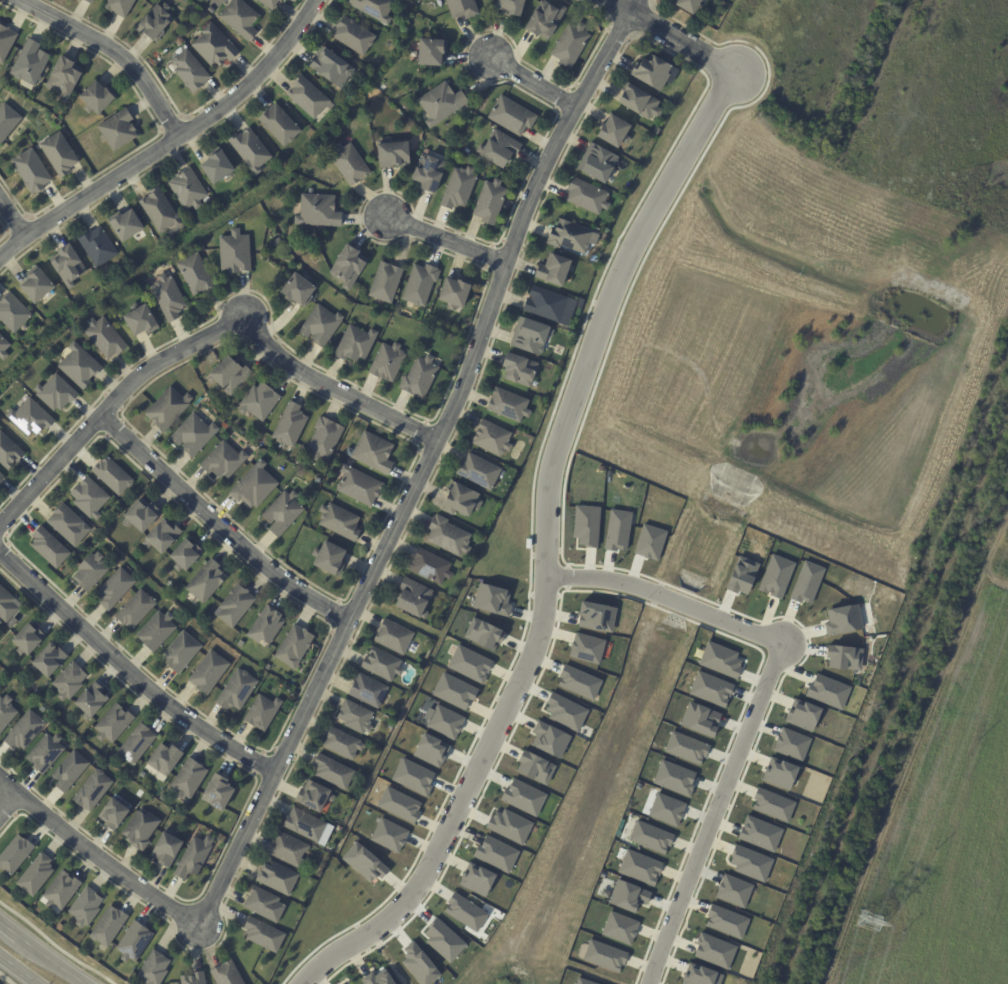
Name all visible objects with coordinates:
building: (279, 0)
building: (87, 1)
building: (268, 3)
building: (687, 5)
building: (510, 6)
building: (119, 7)
building: (373, 8)
building: (461, 8)
building: (211, 10)
building: (239, 18)
building: (544, 20)
building: (155, 23)
building: (353, 36)
road: (673, 36)
building: (5, 41)
building: (570, 44)
building: (213, 46)
building: (430, 50)
road: (111, 52)
building: (29, 63)
building: (330, 67)
building: (189, 70)
building: (651, 71)
building: (63, 77)
road: (532, 81)
building: (307, 97)
building: (96, 98)
building: (638, 101)
building: (440, 103)
building: (511, 115)
building: (7, 121)
building: (278, 124)
park: (884, 129)
building: (117, 130)
building: (613, 131)
building: (657, 131)
road: (169, 144)
building: (500, 148)
building: (249, 149)
building: (58, 154)
building: (392, 154)
building: (598, 163)
building: (348, 164)
building: (216, 167)
building: (30, 171)
building: (429, 174)
building: (459, 188)
building: (186, 189)
building: (586, 196)
building: (206, 200)
building: (490, 201)
building: (159, 210)
building: (318, 210)
road: (12, 220)
building: (125, 225)
building: (571, 236)
building: (604, 236)
building: (163, 241)
road: (445, 242)
building: (281, 243)
building: (97, 247)
building: (234, 252)
building: (66, 265)
building: (347, 266)
building: (554, 270)
building: (193, 274)
building: (385, 282)
building: (420, 285)
building: (36, 286)
building: (297, 291)
building: (455, 292)
building: (167, 297)
building: (553, 306)
building: (12, 314)
building: (139, 319)
building: (320, 326)
building: (530, 336)
building: (102, 337)
road: (203, 338)
building: (355, 344)
building: (2, 348)
building: (387, 363)
building: (78, 366)
building: (519, 370)
building: (228, 375)
building: (419, 378)
building: (55, 393)
building: (259, 401)
building: (508, 405)
building: (166, 409)
building: (29, 418)
building: (290, 426)
building: (193, 435)
building: (492, 438)
building: (325, 439)
building: (8, 452)
building: (373, 453)
building: (222, 462)
building: (348, 462)
road: (424, 466)
building: (478, 472)
building: (110, 475)
building: (1, 477)
building: (317, 480)
building: (253, 486)
building: (358, 486)
building: (89, 498)
building: (461, 501)
building: (282, 514)
building: (140, 516)
building: (339, 522)
building: (588, 525)
building: (67, 526)
road: (219, 527)
building: (619, 530)
building: (161, 537)
building: (448, 537)
building: (651, 542)
building: (49, 548)
road: (546, 549)
building: (183, 556)
building: (329, 559)
building: (429, 567)
building: (89, 572)
building: (745, 574)
building: (777, 576)
building: (206, 582)
building: (808, 582)
building: (115, 589)
road: (667, 597)
building: (494, 598)
building: (413, 600)
building: (6, 605)
building: (234, 607)
building: (134, 610)
building: (597, 616)
building: (845, 619)
building: (265, 627)
building: (155, 632)
building: (485, 633)
building: (392, 637)
building: (25, 641)
building: (588, 647)
building: (292, 648)
building: (179, 653)
building: (846, 656)
building: (722, 660)
building: (46, 662)
building: (471, 664)
building: (381, 665)
building: (268, 667)
building: (207, 673)
road: (128, 675)
building: (68, 681)
building: (580, 681)
building: (0, 685)
building: (713, 689)
building: (236, 690)
building: (456, 690)
building: (830, 690)
building: (368, 691)
building: (90, 701)
building: (40, 709)
building: (566, 711)
building: (5, 712)
building: (261, 713)
building: (807, 715)
building: (355, 717)
building: (702, 719)
building: (447, 722)
building: (112, 724)
building: (23, 731)
building: (550, 738)
building: (793, 743)
building: (341, 744)
building: (134, 745)
building: (688, 747)
building: (433, 749)
building: (44, 754)
building: (164, 759)
building: (537, 765)
building: (69, 771)
building: (332, 772)
building: (782, 774)
building: (415, 776)
building: (676, 777)
building: (187, 780)
building: (91, 792)
building: (217, 793)
building: (524, 797)
building: (314, 798)
road: (7, 800)
building: (400, 803)
building: (774, 804)
building: (668, 808)
road: (715, 812)
building: (113, 815)
building: (305, 825)
building: (510, 825)
building: (139, 831)
building: (761, 833)
building: (391, 835)
building: (653, 836)
building: (167, 849)
building: (287, 850)
building: (497, 853)
building: (14, 855)
road: (98, 856)
building: (193, 858)
building: (366, 862)
building: (752, 862)
building: (209, 867)
building: (642, 867)
building: (35, 876)
building: (277, 878)
building: (479, 880)
building: (736, 890)
building: (59, 892)
building: (630, 896)
building: (264, 904)
building: (85, 907)
building: (466, 911)
building: (728, 921)
power tower: (873, 921)
building: (108, 927)
building: (621, 927)
building: (60, 928)
building: (263, 935)
building: (445, 939)
building: (133, 942)
building: (716, 950)
road: (41, 954)
building: (606, 955)
building: (421, 964)
road: (18, 969)
building: (153, 969)
building: (226, 974)
building: (704, 976)
building: (194, 979)
building: (379, 979)
building: (585, 981)

